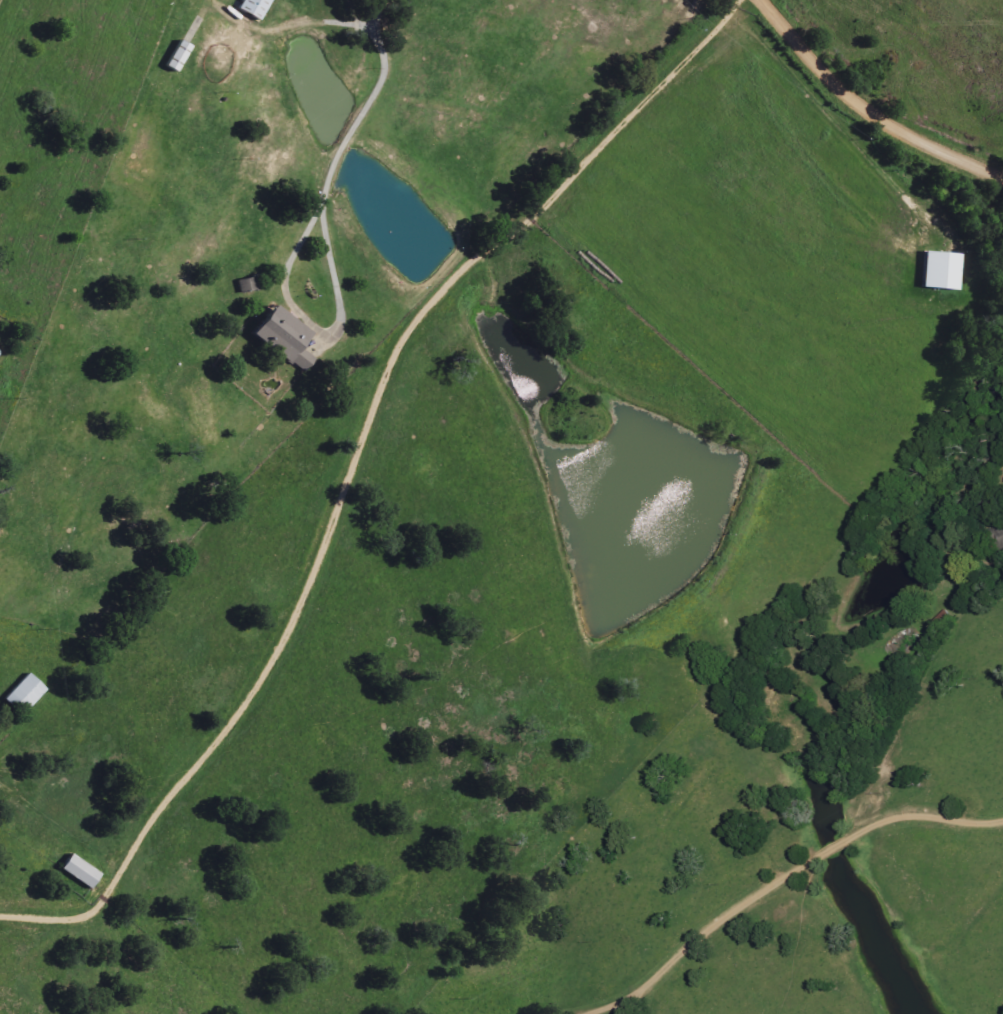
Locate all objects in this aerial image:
building: (255, 8)
road: (363, 100)
road: (829, 106)
road: (868, 109)
building: (941, 271)
road: (318, 320)
building: (283, 339)
road: (349, 461)
building: (1002, 528)
building: (24, 694)
building: (80, 872)
road: (774, 872)

